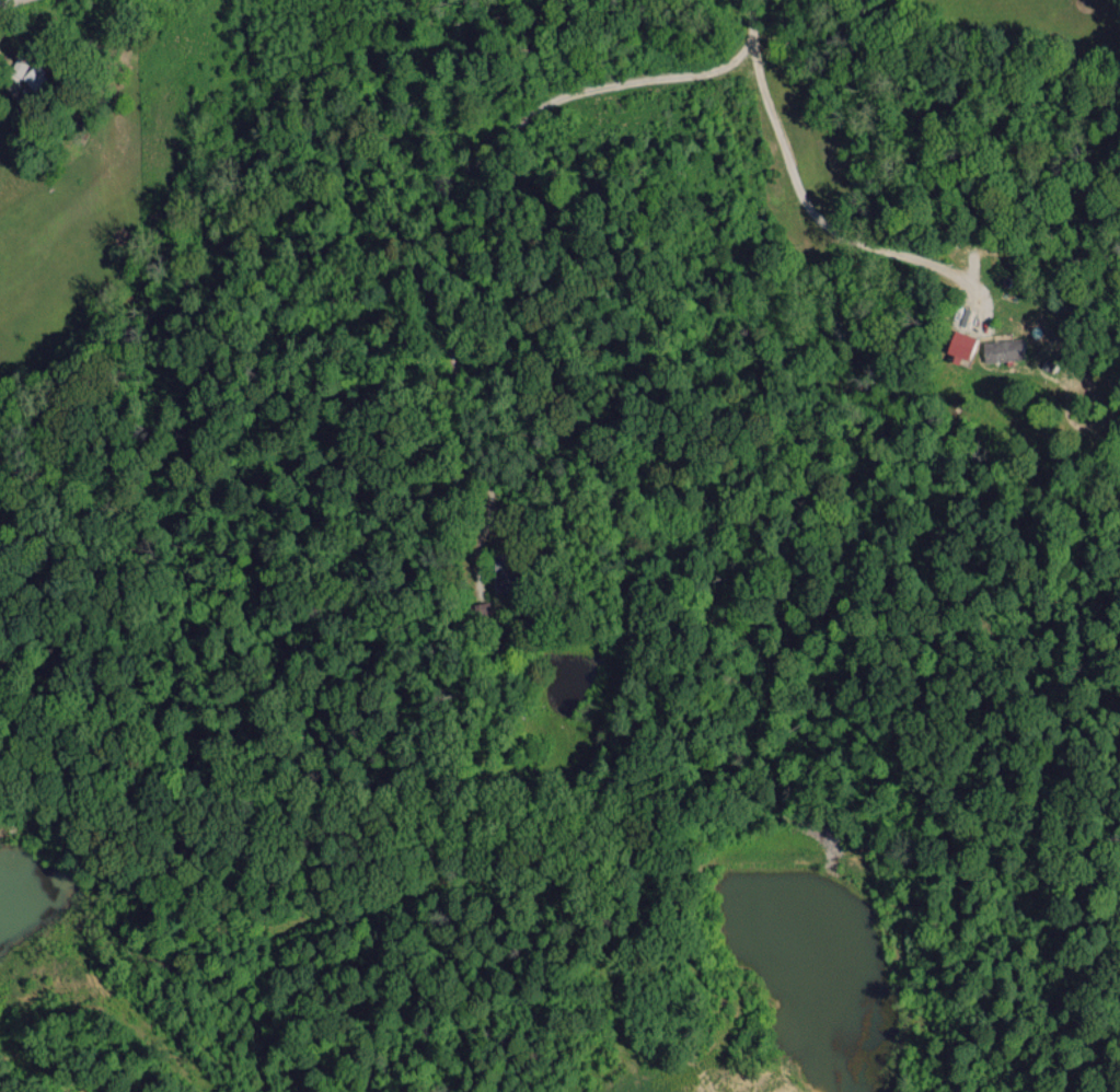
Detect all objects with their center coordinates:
road: (11, 3)
road: (807, 205)
road: (419, 206)
building: (960, 344)
building: (1002, 349)

